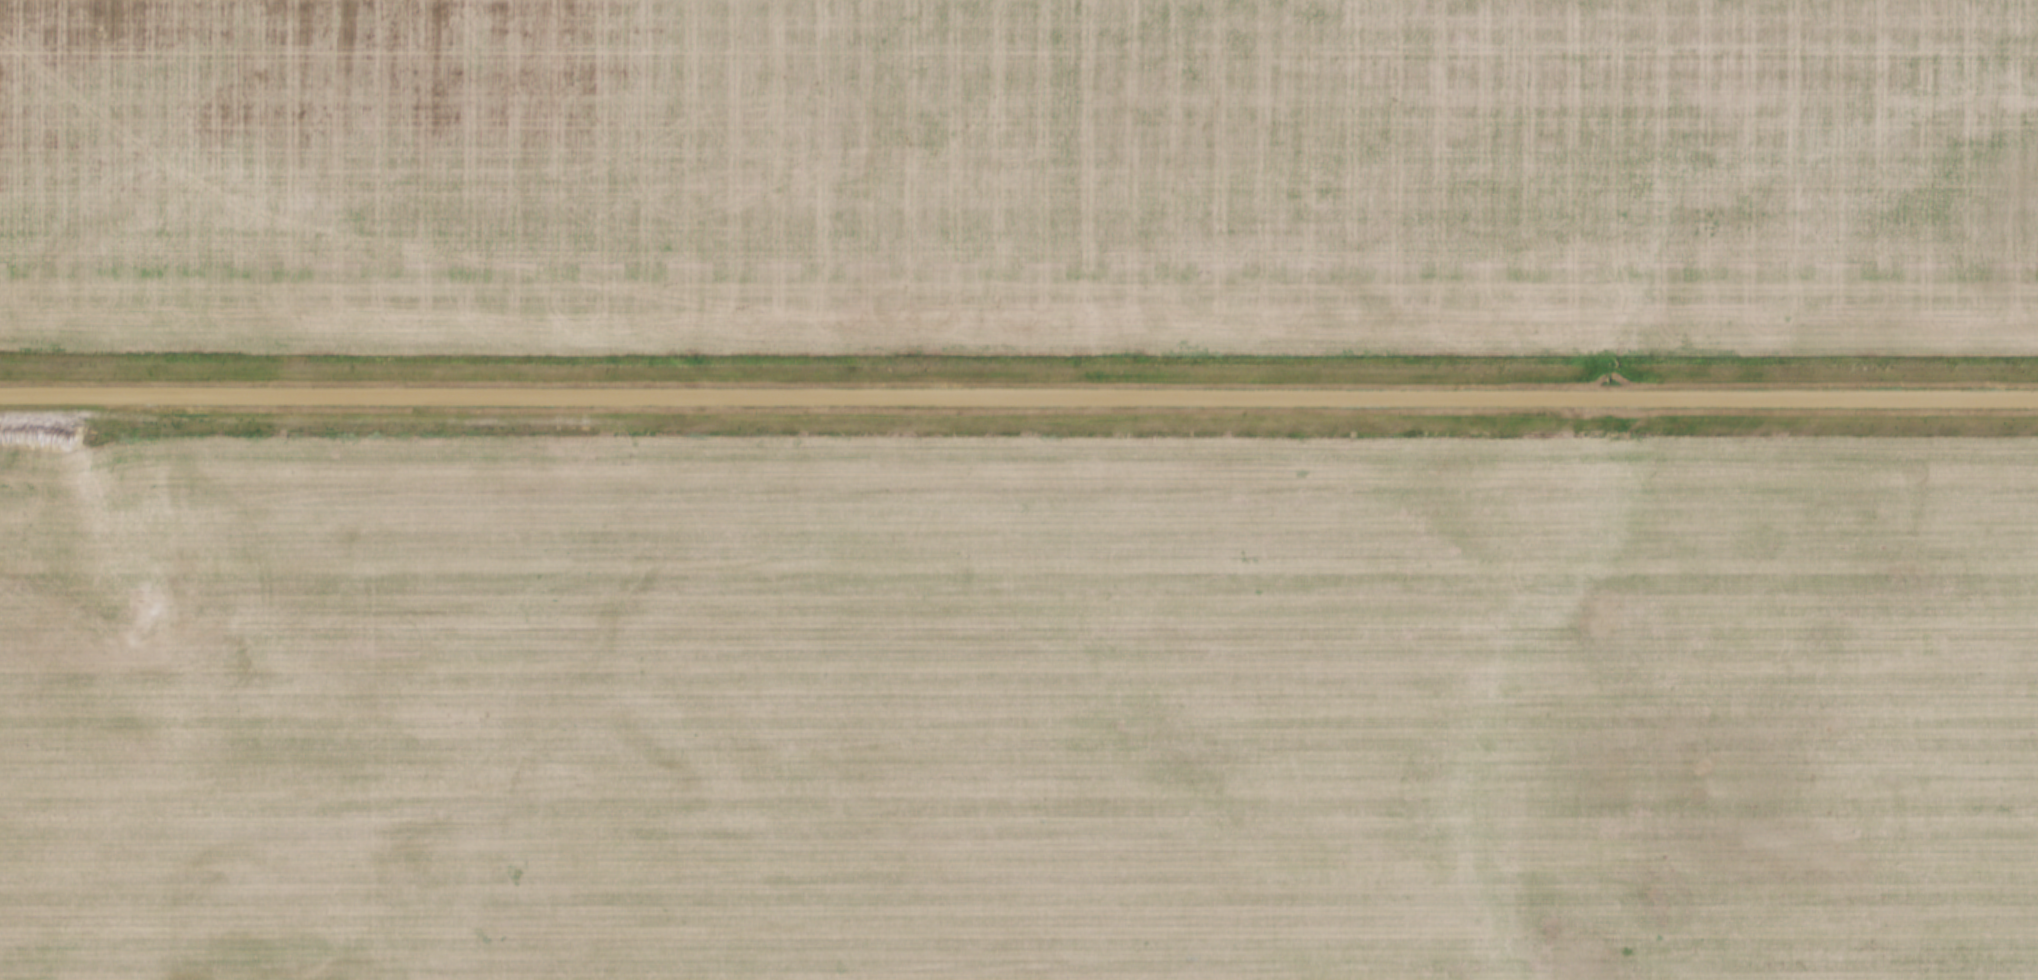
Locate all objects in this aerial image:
road: (1019, 400)

